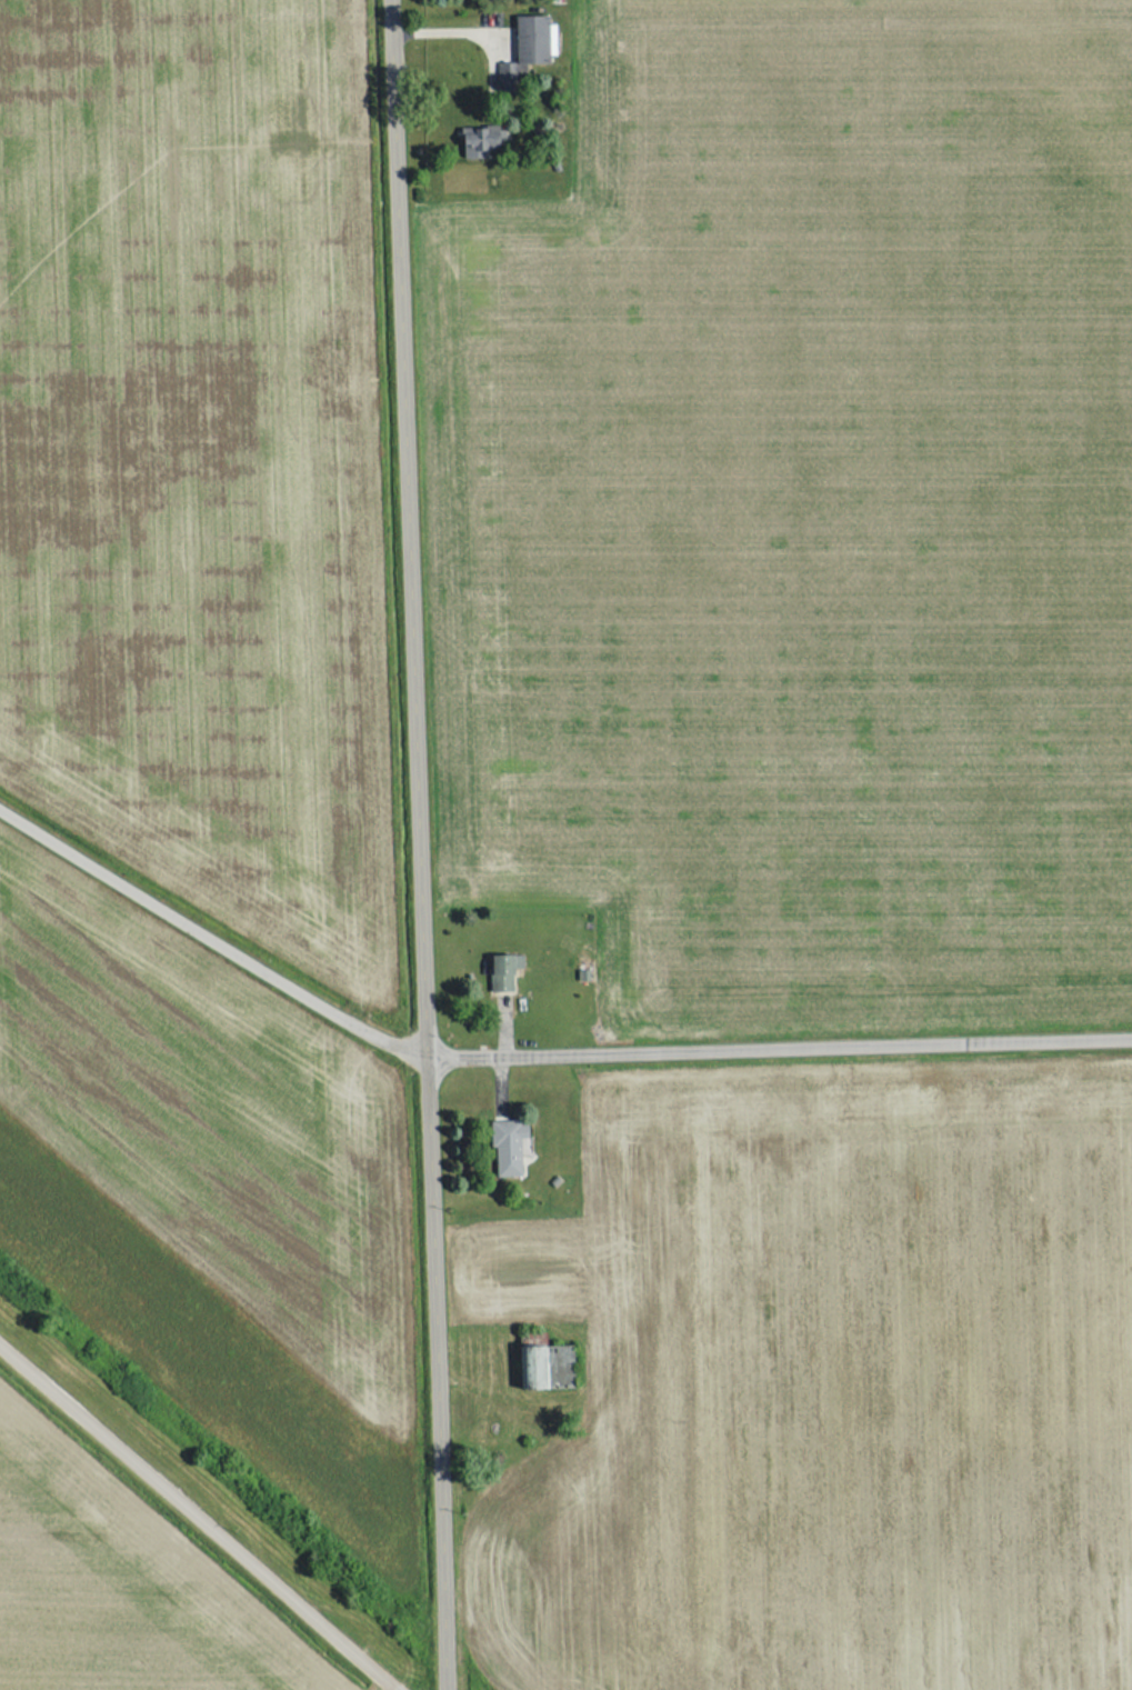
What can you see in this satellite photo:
building: (529, 44)
building: (478, 140)
crop: (193, 454)
crop: (810, 508)
road: (423, 844)
building: (500, 971)
road: (532, 1048)
building: (504, 1147)
crop: (212, 1192)
building: (542, 1368)
crop: (828, 1390)
railway: (238, 1481)
road: (199, 1514)
crop: (107, 1593)

